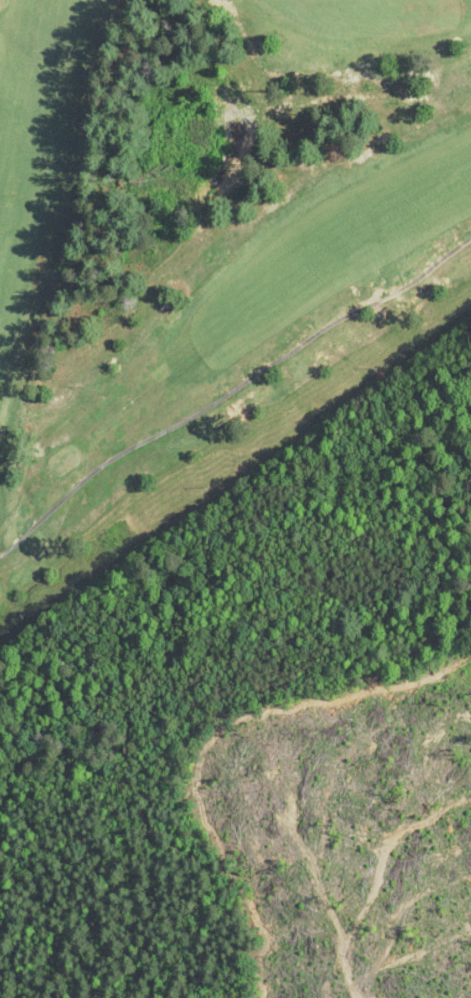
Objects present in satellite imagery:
park: (226, 358)
road: (231, 390)

